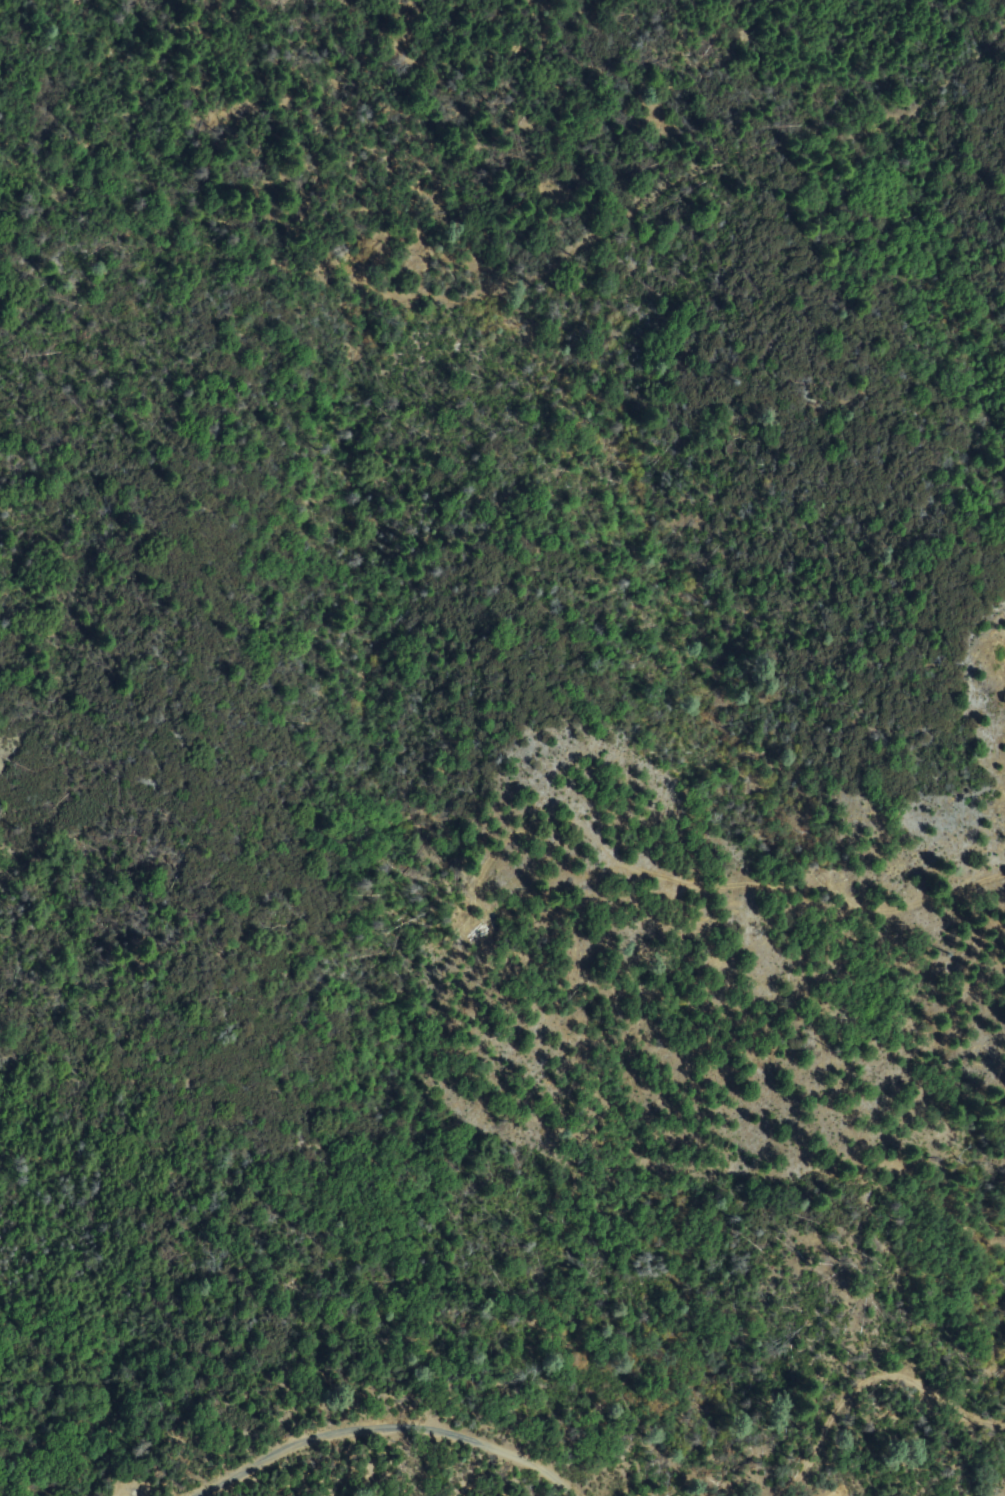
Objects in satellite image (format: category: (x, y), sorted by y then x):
road: (394, 1430)
road: (994, 1494)

